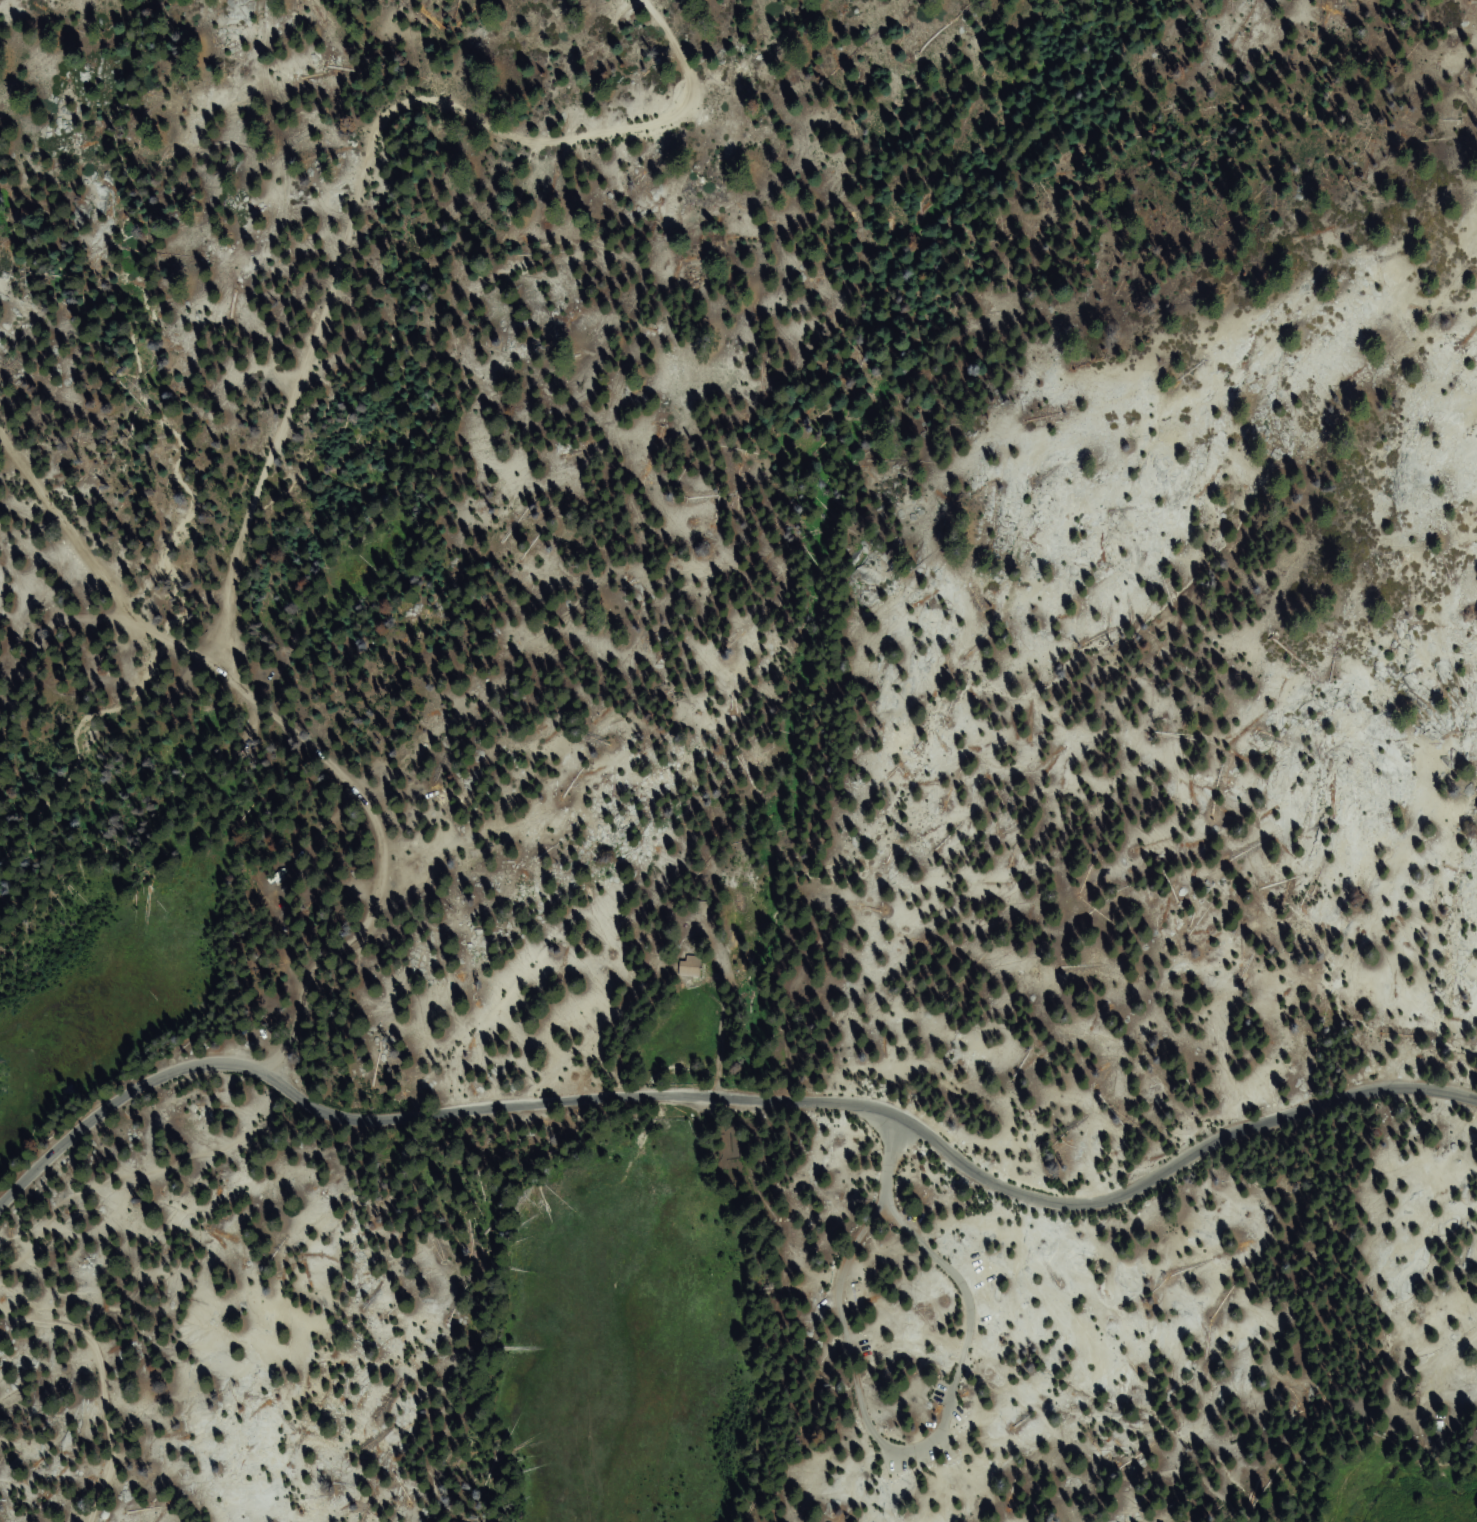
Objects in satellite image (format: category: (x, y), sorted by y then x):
road: (283, 414)
road: (88, 564)
road: (733, 1096)
road: (893, 1136)
building: (876, 1319)
parking lot: (958, 1329)
road: (120, 1340)
road: (962, 1362)
road: (914, 1452)

